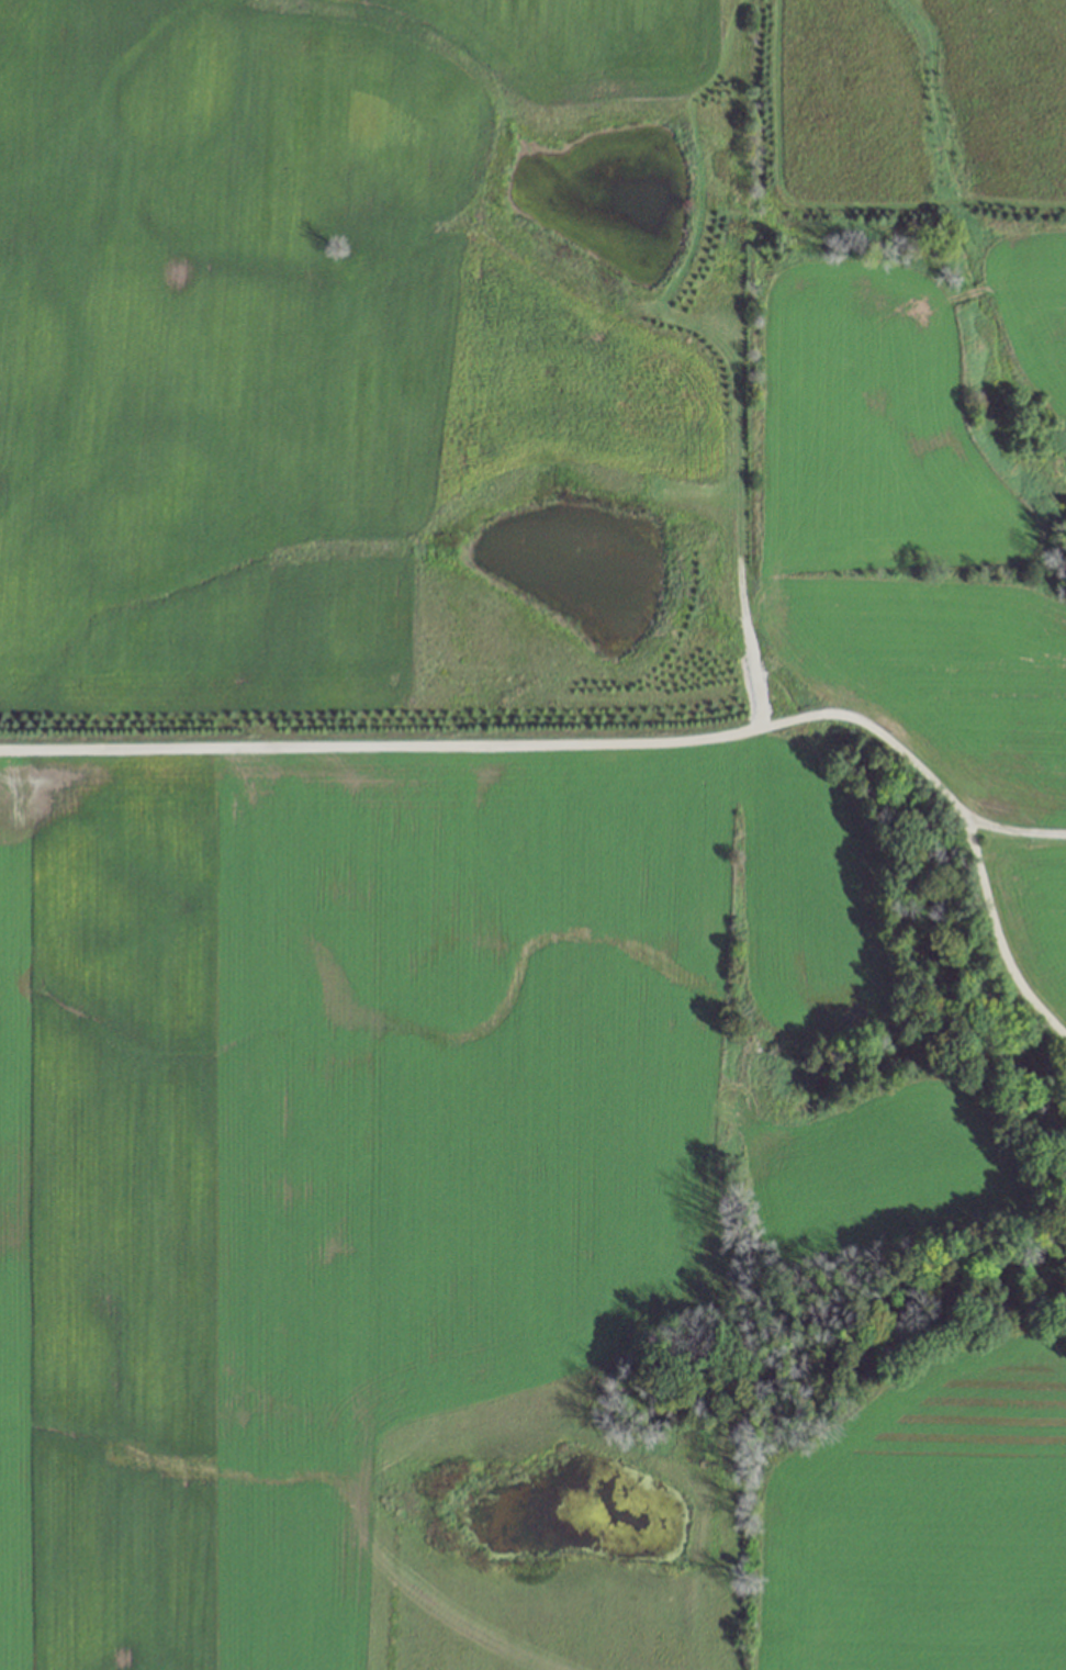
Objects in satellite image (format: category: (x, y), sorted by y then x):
road: (559, 747)
road: (986, 950)
crop: (461, 1226)

